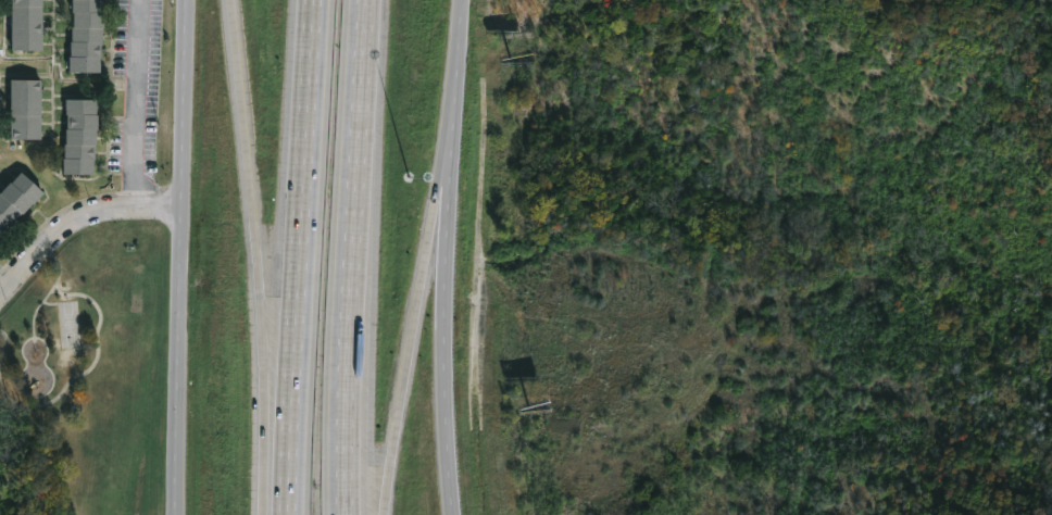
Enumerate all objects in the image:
building: (27, 24)
building: (87, 35)
road: (142, 106)
road: (187, 106)
building: (25, 109)
building: (80, 135)
building: (17, 200)
road: (438, 214)
road: (76, 225)
road: (256, 256)
road: (300, 256)
road: (352, 256)
road: (446, 256)
road: (181, 364)
road: (404, 381)

